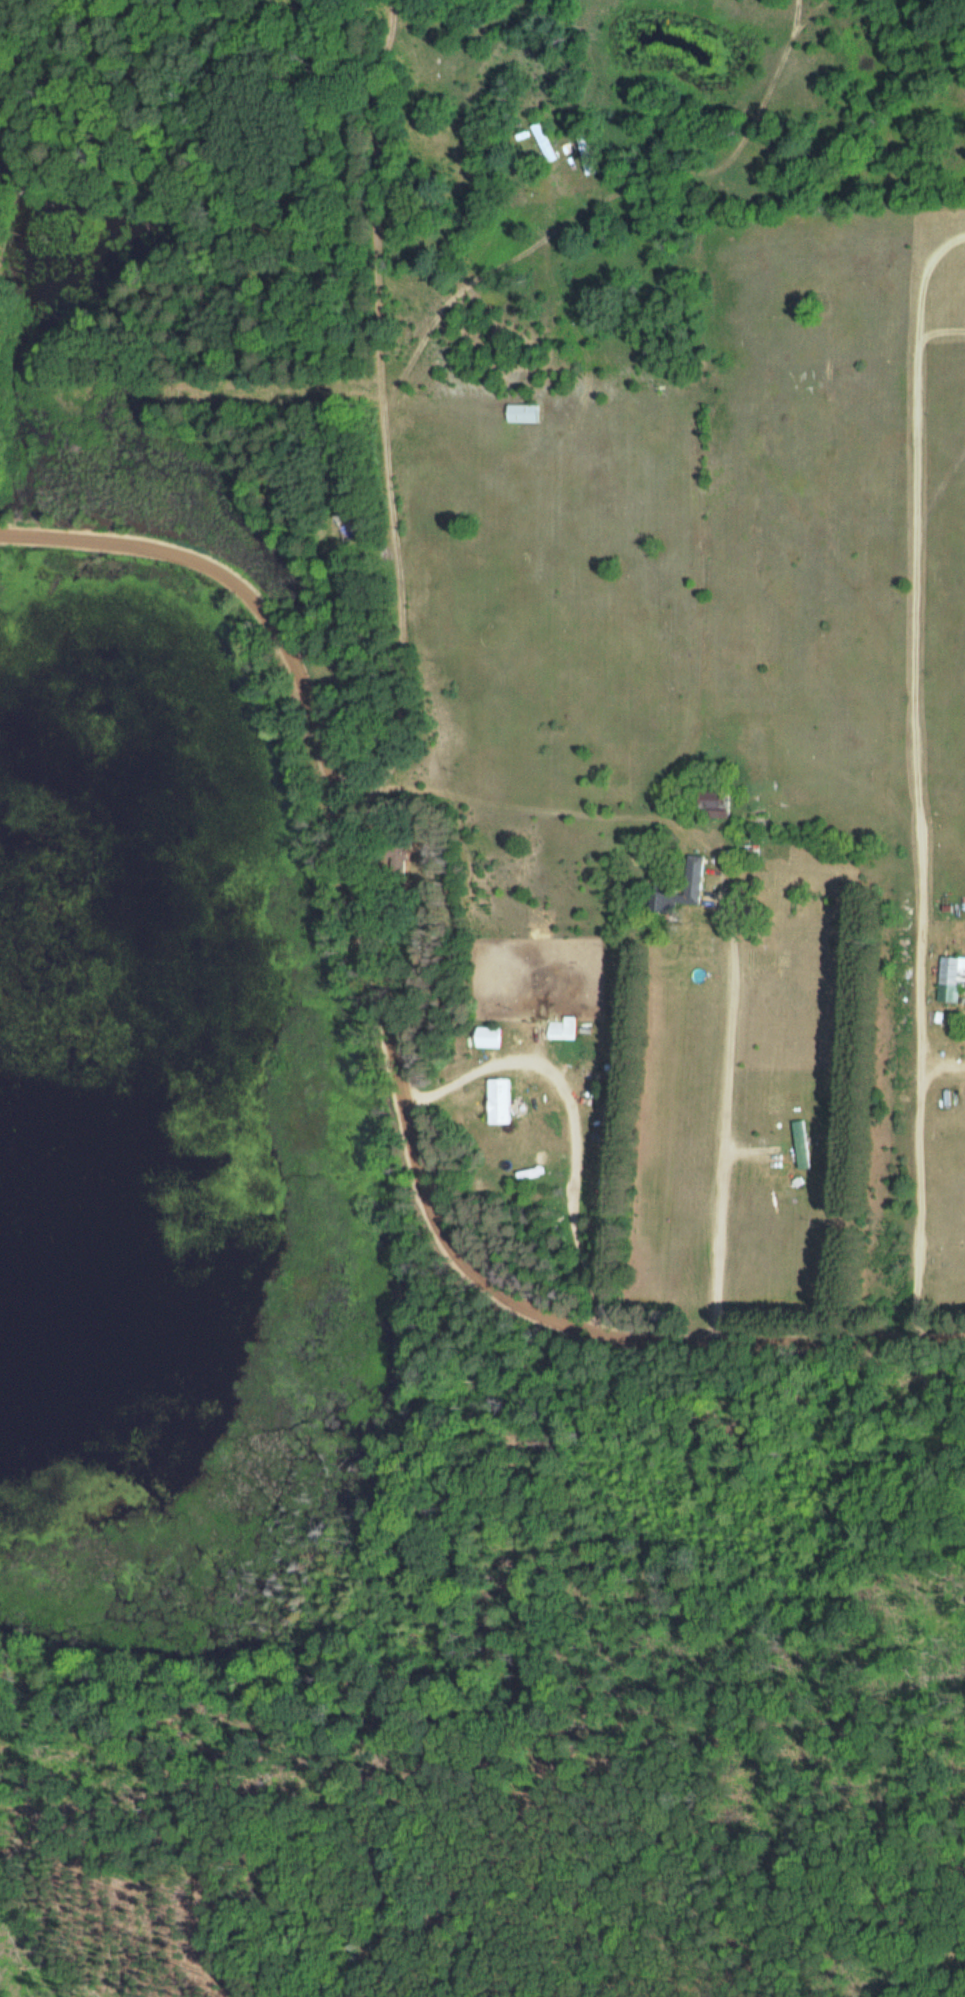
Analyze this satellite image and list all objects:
building: (541, 141)
building: (583, 151)
building: (521, 412)
building: (348, 524)
building: (709, 799)
road: (357, 865)
building: (679, 886)
building: (946, 979)
building: (561, 1028)
building: (485, 1037)
building: (497, 1101)
road: (460, 1104)
building: (800, 1144)
road: (758, 1165)
road: (783, 1346)

